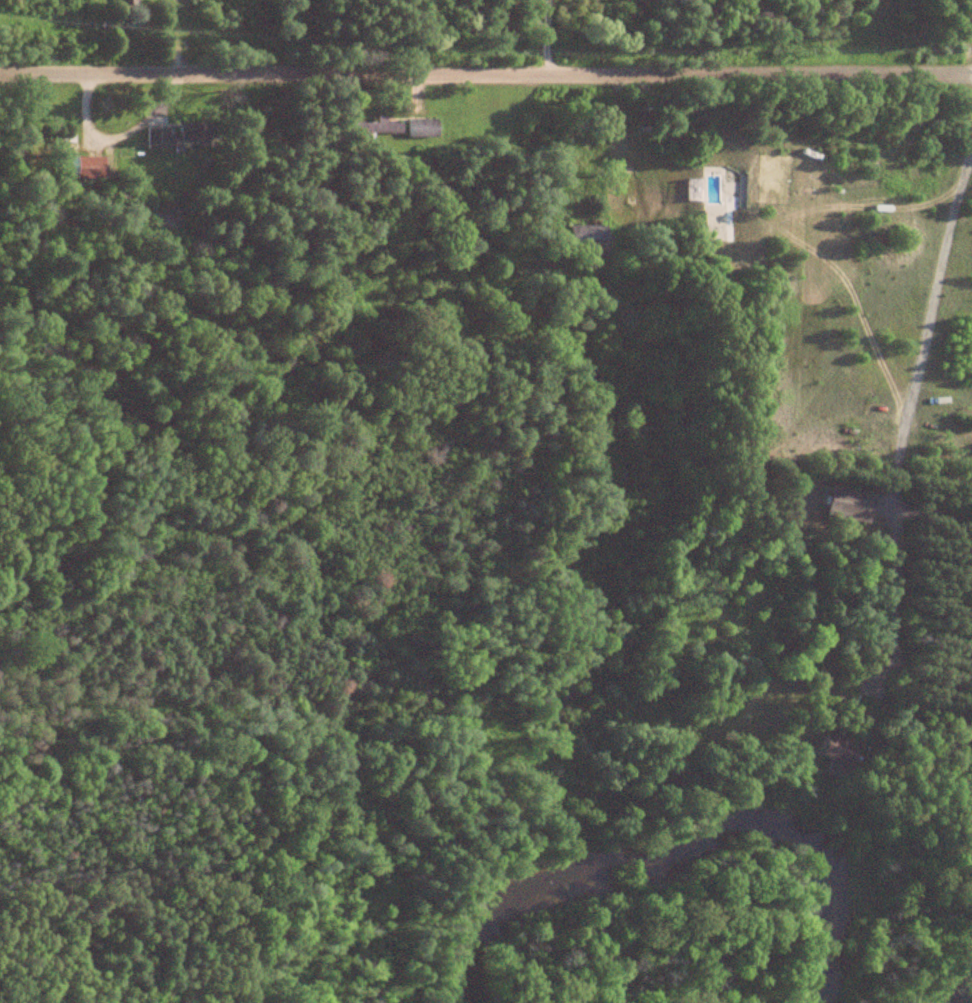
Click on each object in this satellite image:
road: (544, 37)
road: (486, 71)
building: (376, 128)
building: (422, 128)
road: (119, 136)
building: (180, 137)
building: (692, 189)
building: (588, 237)
road: (907, 414)
building: (850, 504)
building: (840, 751)
river: (687, 838)
river: (966, 995)

